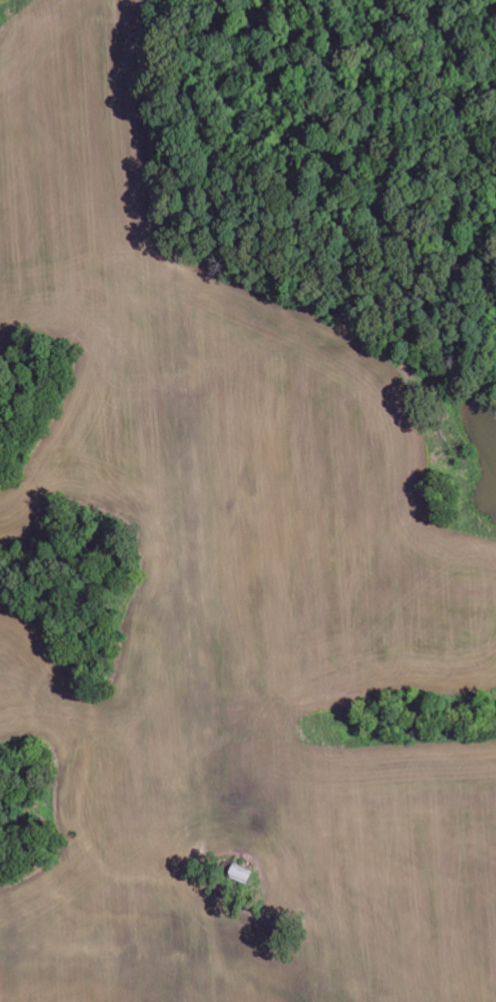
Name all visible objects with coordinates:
road: (150, 456)
crop: (222, 598)
building: (240, 871)

